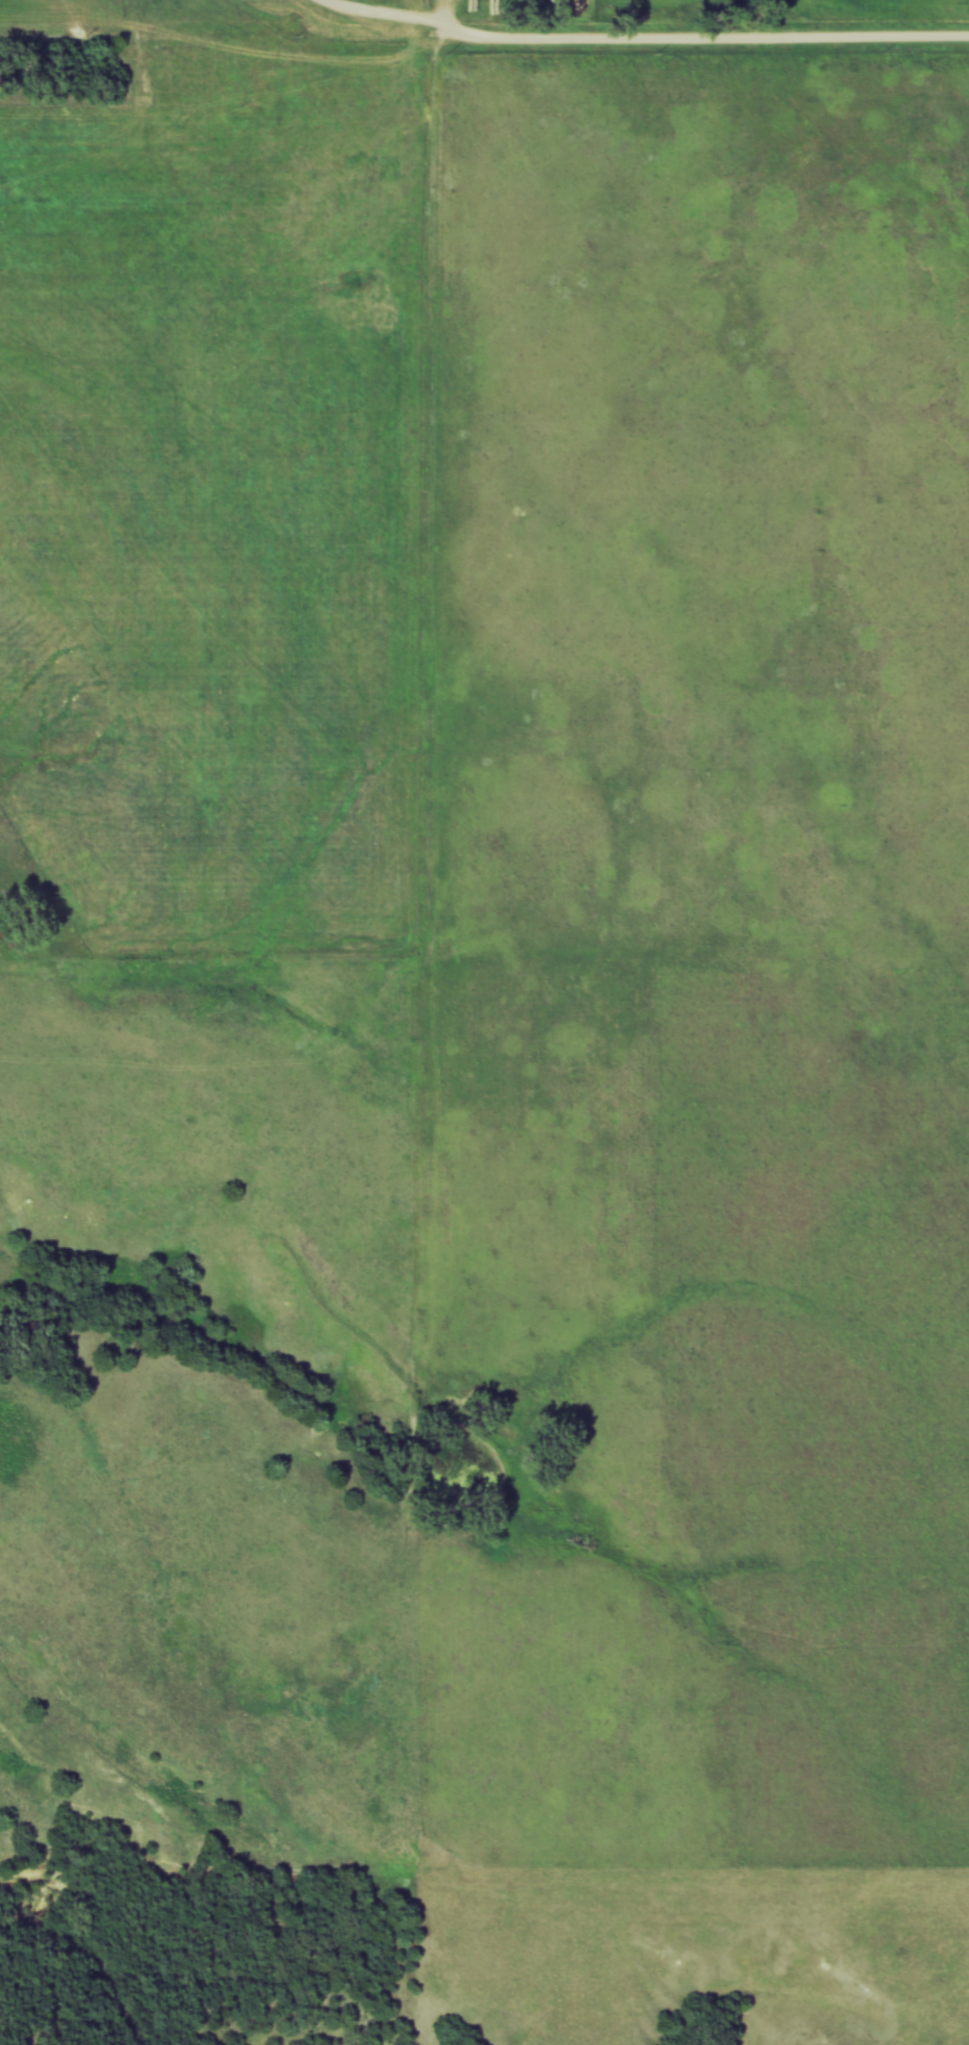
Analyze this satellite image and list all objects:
road: (381, 34)
road: (721, 44)

